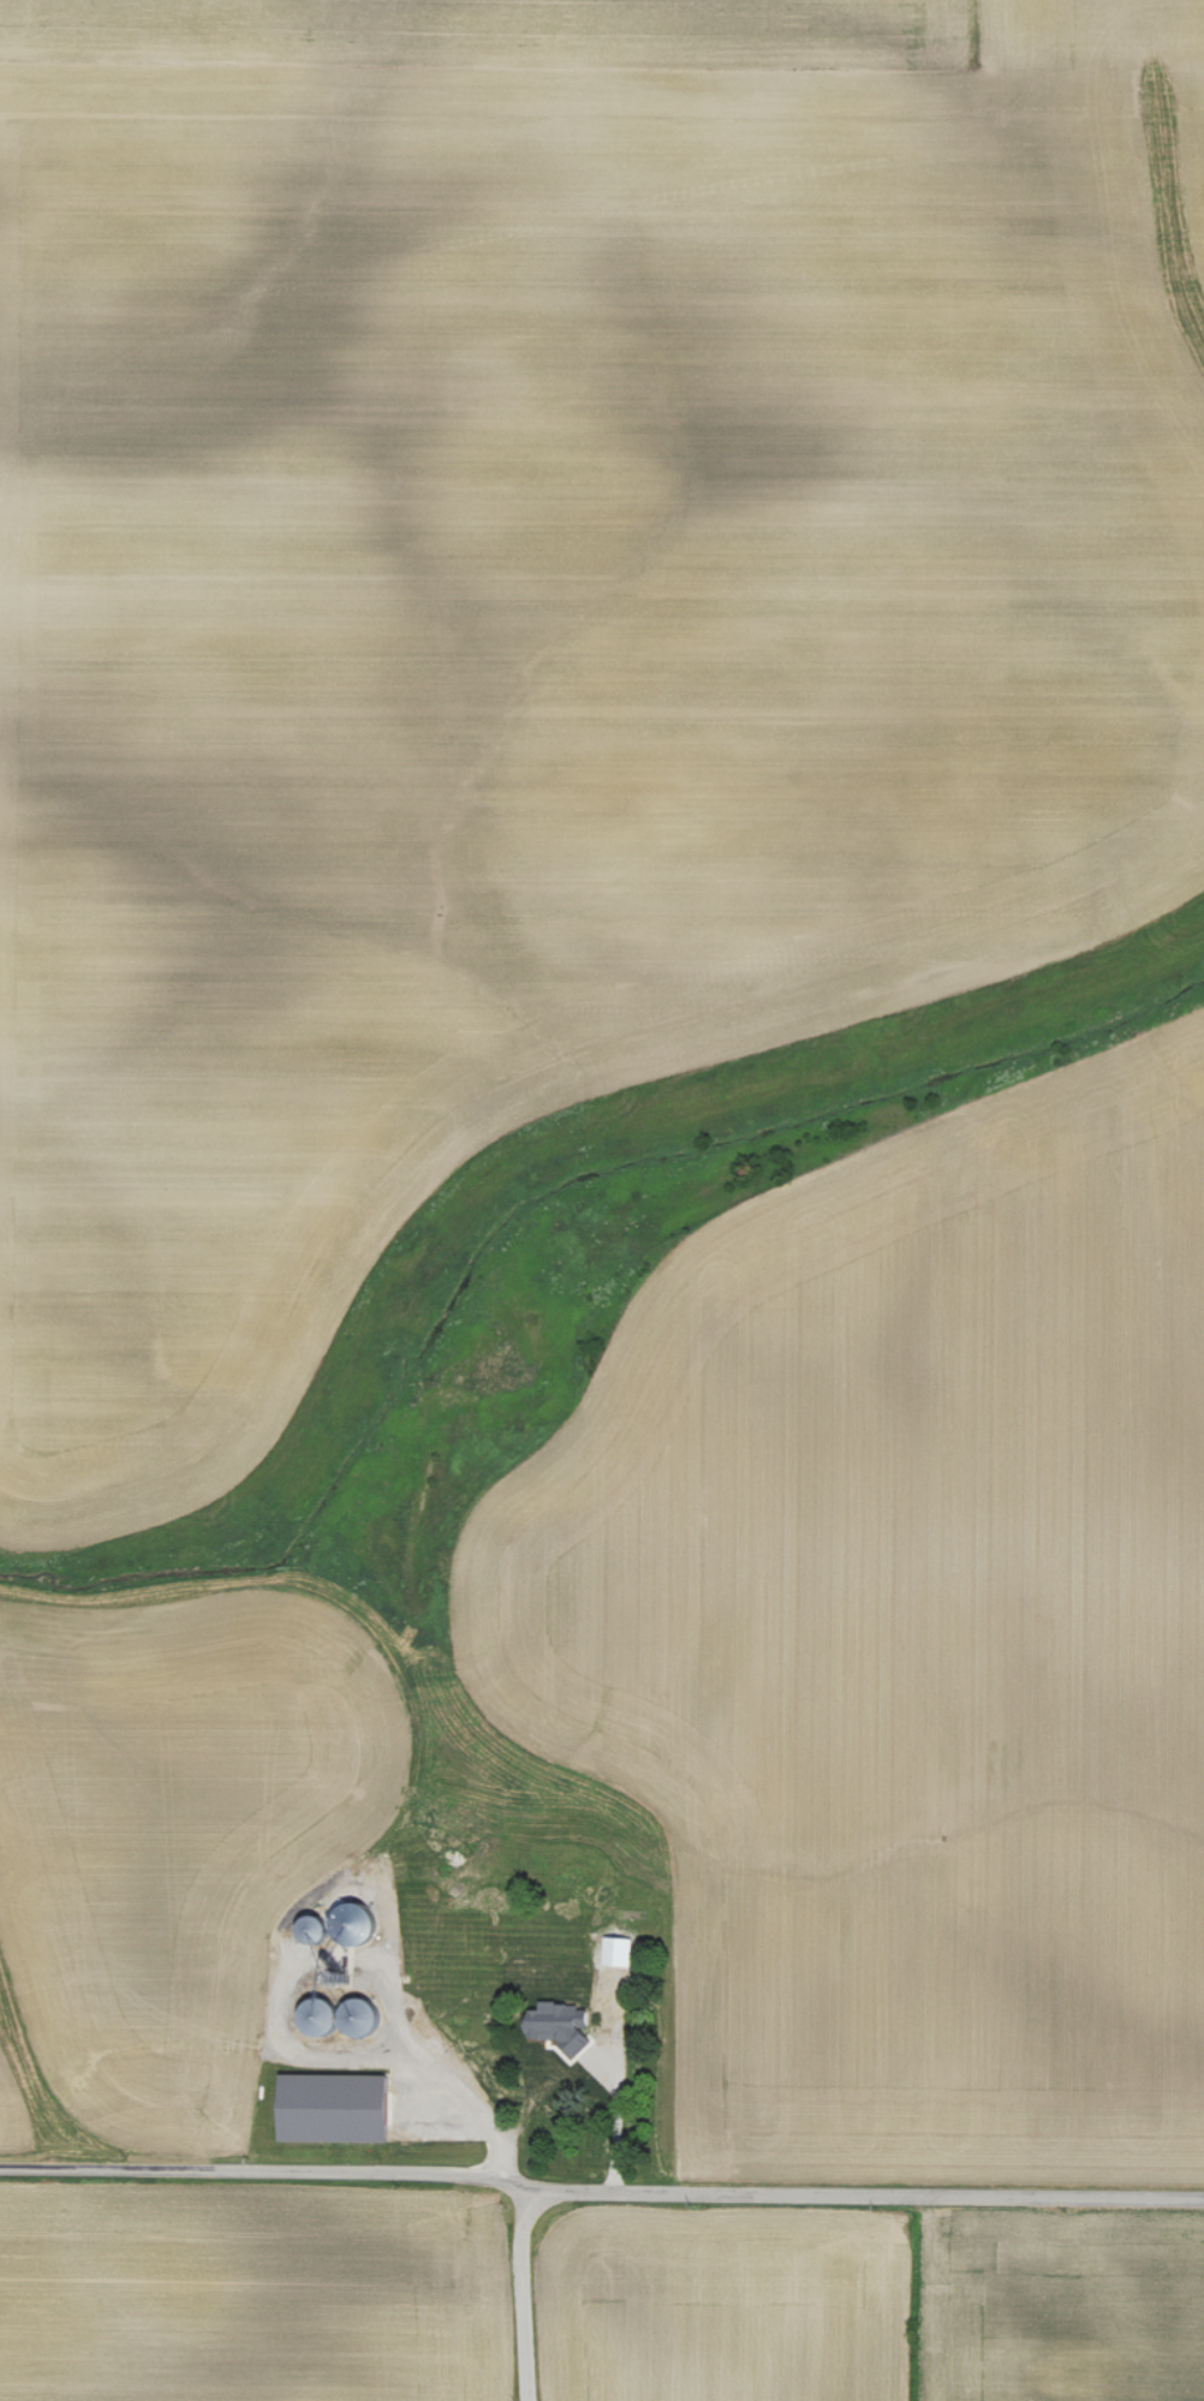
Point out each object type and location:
building: (614, 1952)
road: (441, 2053)
road: (555, 2068)
building: (326, 2108)
road: (615, 2122)
road: (598, 2191)
road: (521, 2295)

